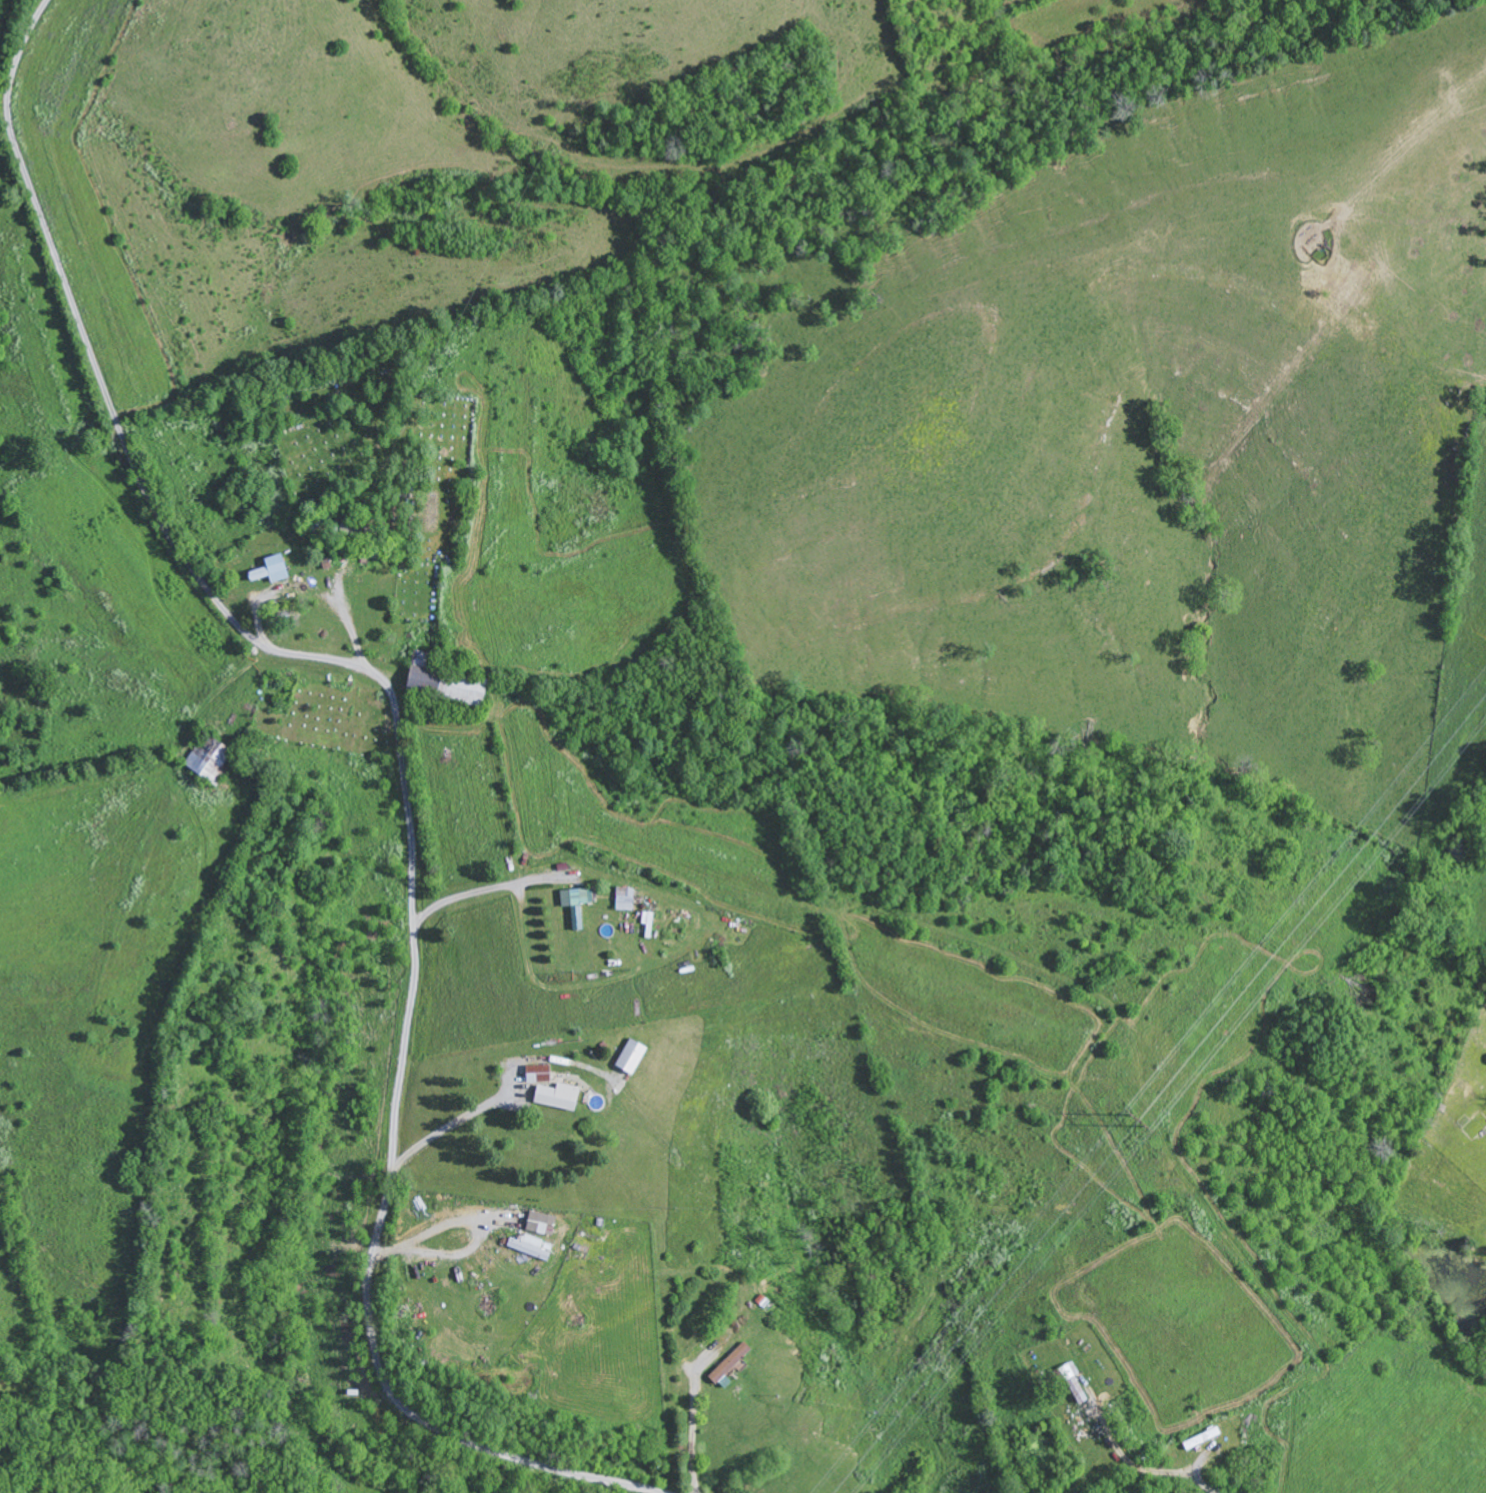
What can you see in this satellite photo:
building: (275, 570)
building: (450, 684)
road: (402, 759)
building: (628, 900)
building: (579, 905)
building: (636, 1057)
building: (542, 1074)
building: (561, 1097)
power tower: (1142, 1123)
building: (540, 1224)
building: (531, 1249)
road: (1439, 1322)
road: (1399, 1353)
building: (733, 1365)
road: (1137, 1470)

